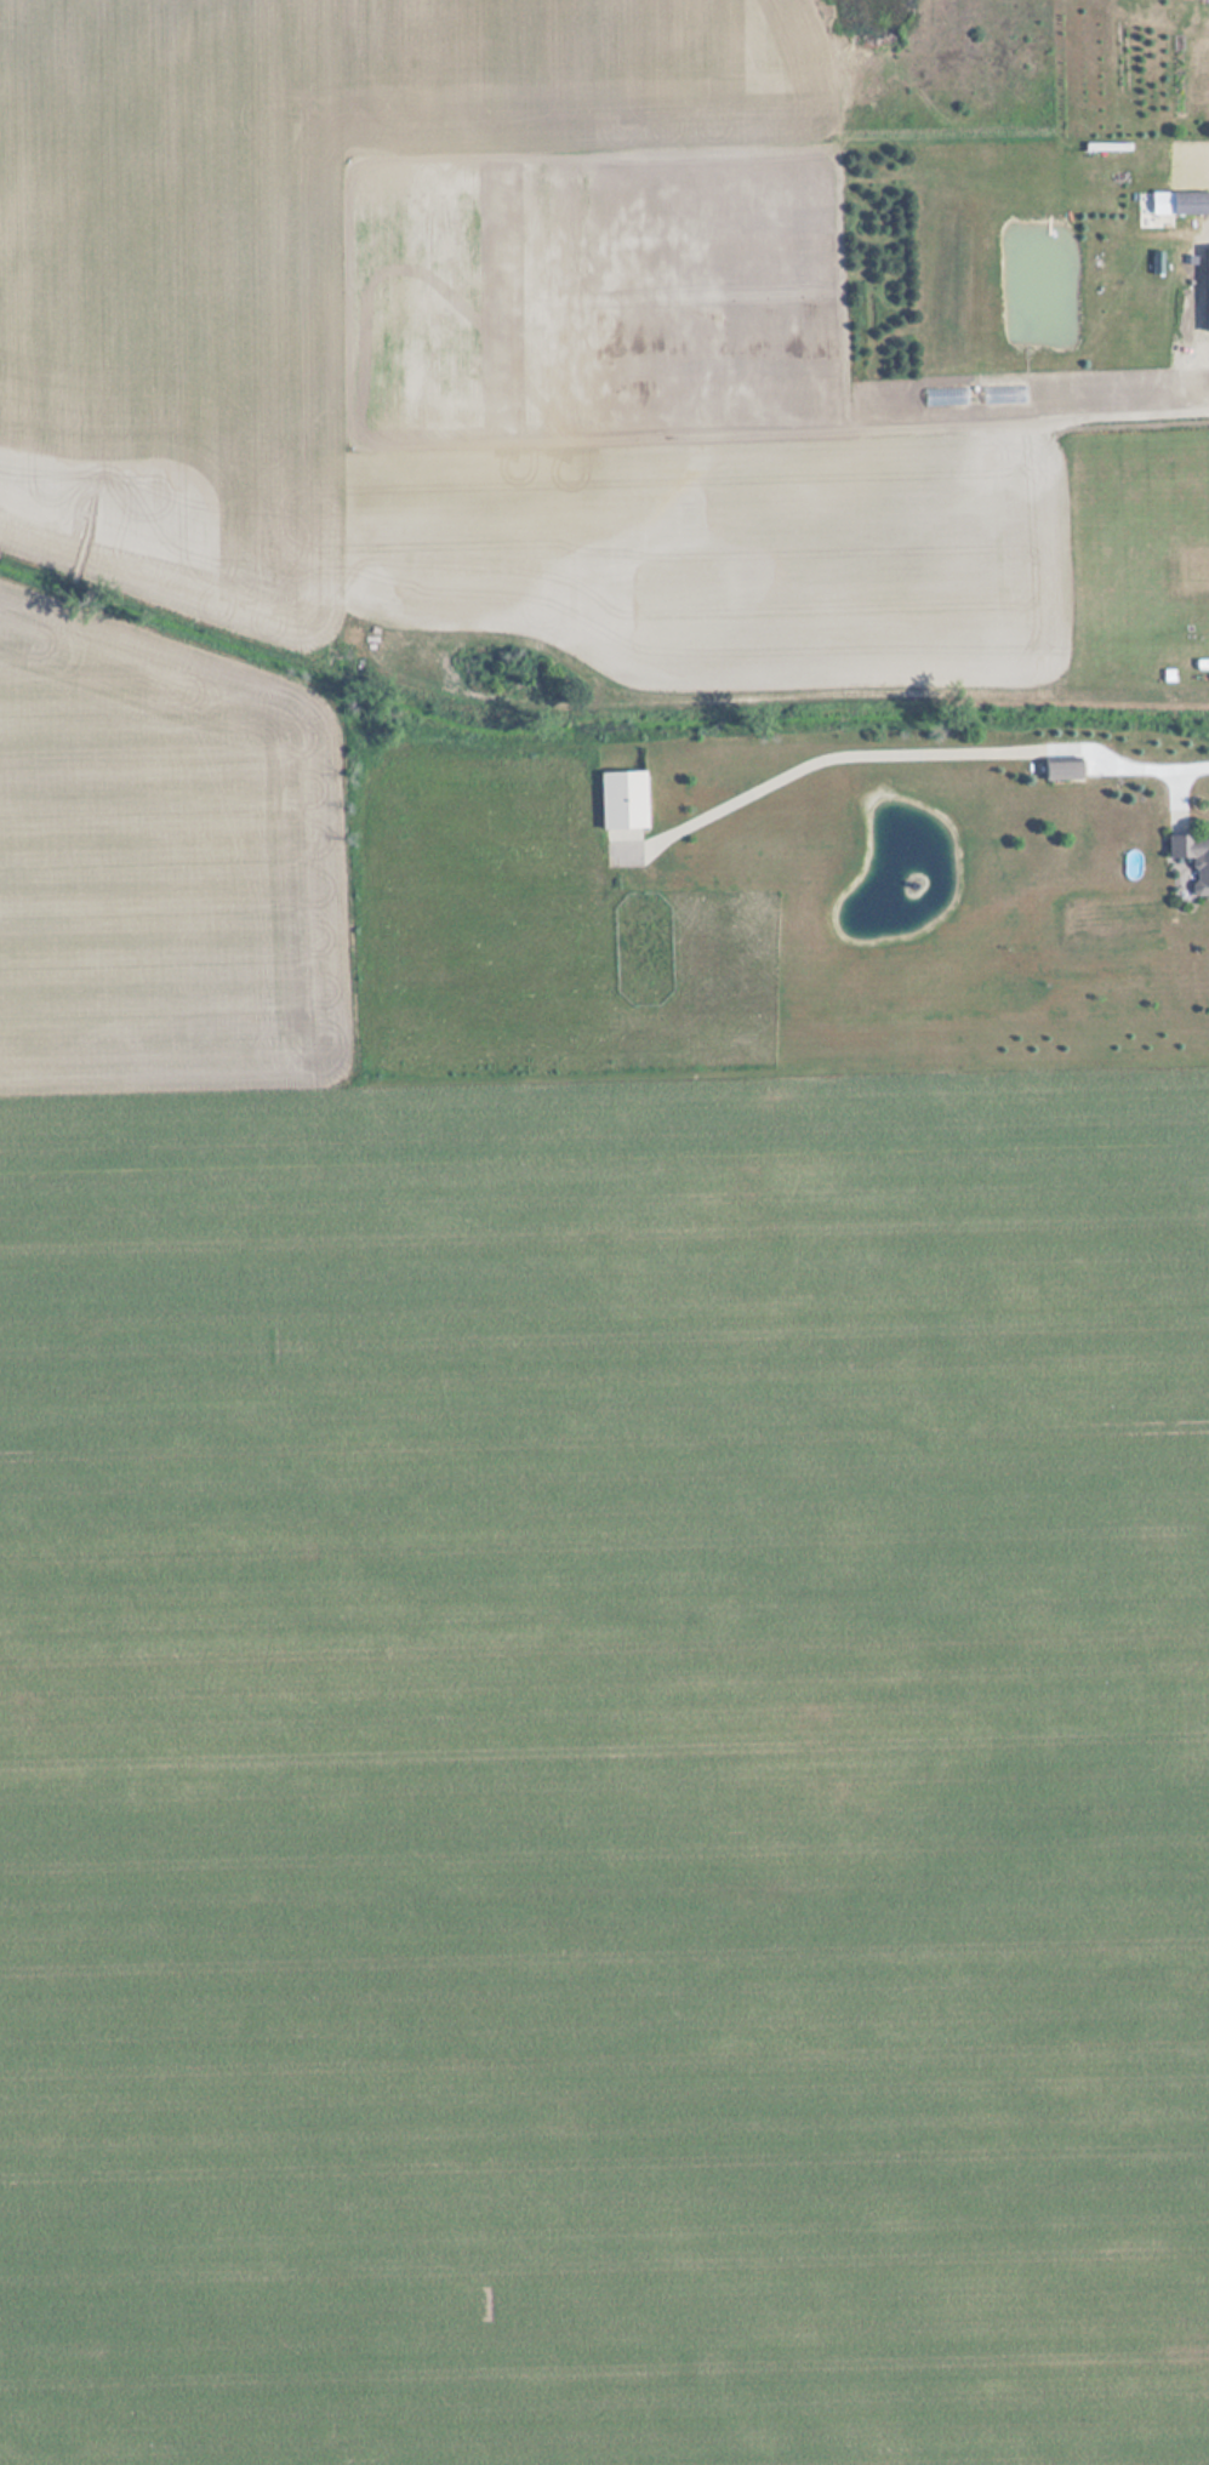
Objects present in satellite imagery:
building: (1191, 204)
building: (1066, 770)
building: (625, 799)
building: (1193, 858)

